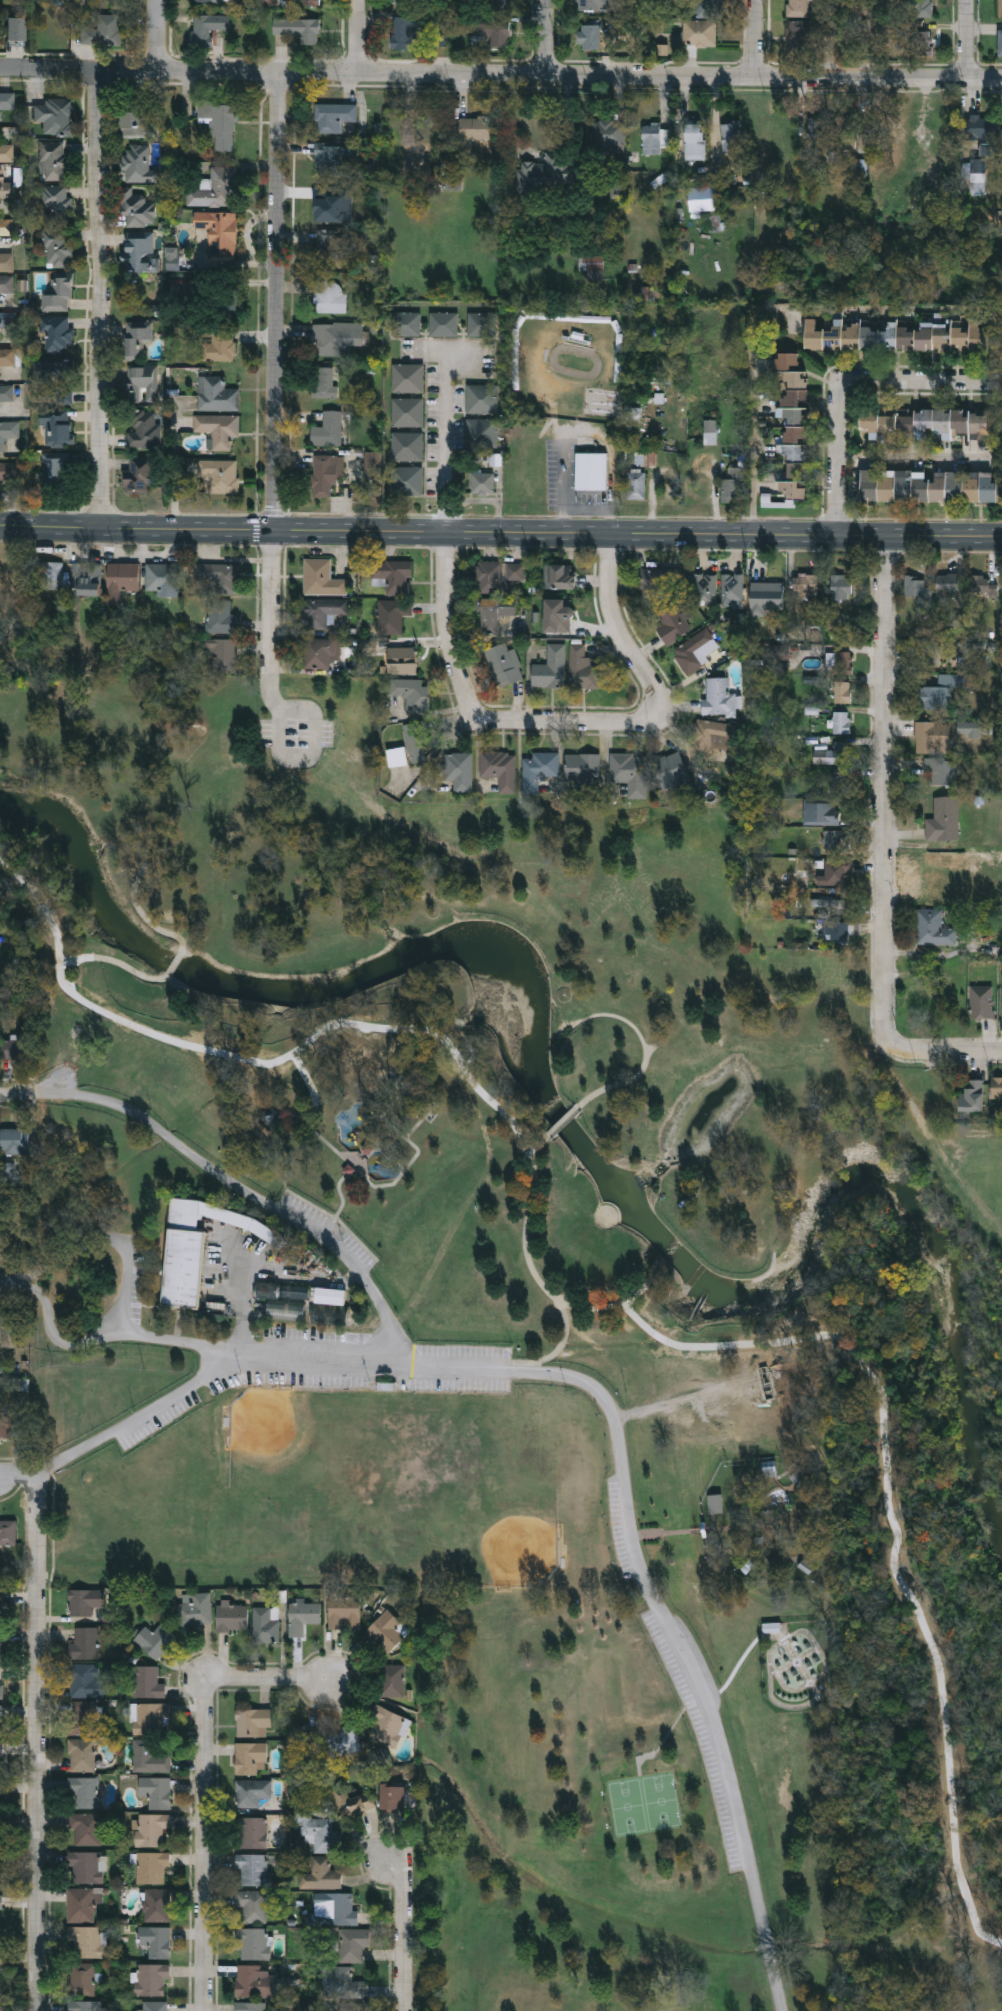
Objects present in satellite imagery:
building: (208, 1)
building: (404, 1)
building: (499, 1)
building: (304, 2)
building: (593, 4)
building: (798, 7)
building: (923, 7)
building: (708, 8)
building: (1000, 8)
building: (299, 27)
building: (16, 29)
building: (403, 29)
building: (103, 31)
building: (203, 31)
building: (699, 31)
building: (493, 34)
building: (799, 34)
building: (588, 35)
road: (147, 36)
road: (357, 36)
road: (543, 37)
road: (755, 37)
road: (967, 37)
building: (923, 41)
building: (999, 41)
road: (500, 73)
building: (7, 100)
building: (54, 114)
building: (333, 116)
building: (136, 123)
building: (220, 124)
building: (979, 128)
building: (476, 130)
building: (607, 135)
building: (732, 139)
building: (655, 140)
building: (693, 142)
building: (6, 153)
building: (331, 158)
building: (55, 160)
building: (138, 163)
building: (547, 176)
building: (975, 176)
building: (216, 188)
building: (7, 190)
building: (326, 202)
building: (56, 203)
building: (138, 209)
building: (6, 226)
building: (219, 234)
building: (58, 248)
building: (328, 249)
building: (139, 252)
building: (6, 262)
building: (589, 263)
building: (6, 283)
building: (58, 295)
building: (329, 295)
building: (225, 298)
road: (99, 299)
road: (797, 306)
building: (7, 319)
building: (442, 323)
building: (405, 324)
building: (481, 324)
building: (58, 332)
building: (136, 337)
building: (333, 337)
building: (894, 337)
building: (220, 344)
road: (536, 345)
building: (8, 356)
road: (274, 369)
building: (60, 377)
building: (406, 378)
building: (324, 382)
road: (840, 382)
building: (141, 383)
building: (7, 392)
building: (216, 393)
building: (481, 398)
building: (406, 411)
building: (790, 422)
building: (926, 422)
building: (56, 425)
building: (218, 427)
building: (328, 428)
building: (144, 429)
building: (8, 430)
building: (481, 432)
road: (441, 445)
building: (406, 446)
road: (913, 448)
building: (56, 469)
building: (6, 470)
building: (139, 472)
building: (591, 472)
building: (325, 473)
building: (219, 474)
building: (406, 480)
building: (482, 483)
building: (928, 485)
building: (636, 486)
building: (732, 486)
road: (500, 533)
building: (87, 574)
building: (49, 575)
building: (394, 576)
building: (498, 576)
building: (562, 576)
building: (121, 578)
building: (210, 578)
building: (321, 578)
building: (162, 579)
building: (661, 579)
building: (806, 584)
building: (946, 585)
building: (982, 585)
building: (732, 587)
building: (840, 587)
building: (705, 589)
building: (917, 592)
building: (766, 597)
building: (321, 611)
building: (493, 613)
building: (392, 614)
building: (221, 616)
building: (672, 624)
building: (692, 649)
building: (319, 652)
building: (225, 654)
building: (401, 660)
building: (842, 661)
building: (504, 664)
road: (454, 667)
road: (639, 667)
building: (550, 668)
building: (582, 668)
road: (271, 690)
building: (941, 690)
building: (842, 691)
building: (411, 693)
building: (718, 696)
building: (841, 722)
building: (714, 735)
building: (930, 736)
building: (409, 745)
road: (273, 746)
building: (835, 754)
building: (540, 766)
building: (583, 766)
building: (499, 769)
building: (458, 770)
building: (671, 770)
building: (937, 770)
building: (629, 772)
building: (840, 784)
road: (884, 793)
building: (821, 813)
building: (943, 819)
building: (837, 839)
building: (926, 870)
building: (837, 872)
road: (142, 915)
building: (931, 928)
building: (840, 930)
building: (992, 949)
road: (115, 962)
road: (174, 966)
building: (981, 1002)
building: (935, 1003)
road: (644, 1042)
road: (468, 1045)
building: (15, 1048)
road: (652, 1048)
road: (941, 1050)
building: (996, 1086)
road: (19, 1093)
building: (971, 1095)
road: (420, 1120)
road: (564, 1122)
road: (372, 1125)
building: (15, 1141)
road: (537, 1145)
road: (368, 1183)
road: (339, 1188)
road: (248, 1192)
road: (337, 1220)
road: (114, 1241)
building: (181, 1254)
road: (18, 1284)
building: (288, 1292)
building: (330, 1298)
road: (603, 1306)
building: (289, 1308)
park: (528, 1337)
road: (561, 1342)
road: (376, 1362)
building: (766, 1385)
road: (684, 1399)
road: (138, 1416)
building: (10, 1427)
road: (28, 1477)
building: (801, 1481)
building: (716, 1505)
building: (8, 1532)
building: (85, 1601)
building: (0, 1605)
building: (194, 1608)
building: (344, 1613)
building: (303, 1616)
building: (232, 1617)
building: (266, 1624)
building: (772, 1629)
building: (388, 1631)
building: (155, 1639)
building: (84, 1643)
building: (1, 1645)
building: (82, 1679)
building: (392, 1680)
building: (148, 1681)
building: (0, 1682)
road: (690, 1706)
building: (1, 1711)
building: (83, 1717)
building: (151, 1718)
building: (253, 1723)
building: (388, 1726)
building: (343, 1742)
building: (308, 1745)
building: (0, 1749)
building: (82, 1755)
road: (34, 1757)
building: (149, 1758)
building: (251, 1758)
road: (724, 1767)
road: (204, 1785)
building: (84, 1792)
building: (156, 1792)
building: (252, 1792)
building: (392, 1798)
building: (354, 1802)
park: (643, 1804)
building: (316, 1827)
building: (86, 1828)
building: (151, 1829)
building: (253, 1832)
building: (0, 1836)
building: (86, 1866)
building: (152, 1867)
building: (252, 1868)
building: (0, 1871)
building: (321, 1874)
building: (1, 1901)
building: (80, 1904)
building: (157, 1904)
building: (252, 1904)
building: (338, 1908)
road: (404, 1932)
building: (156, 1940)
building: (86, 1941)
building: (253, 1943)
building: (353, 1943)
building: (82, 1978)
building: (152, 1979)
building: (254, 1981)
building: (348, 1983)
building: (87, 2006)
building: (156, 2006)
building: (250, 2006)
building: (355, 2006)

